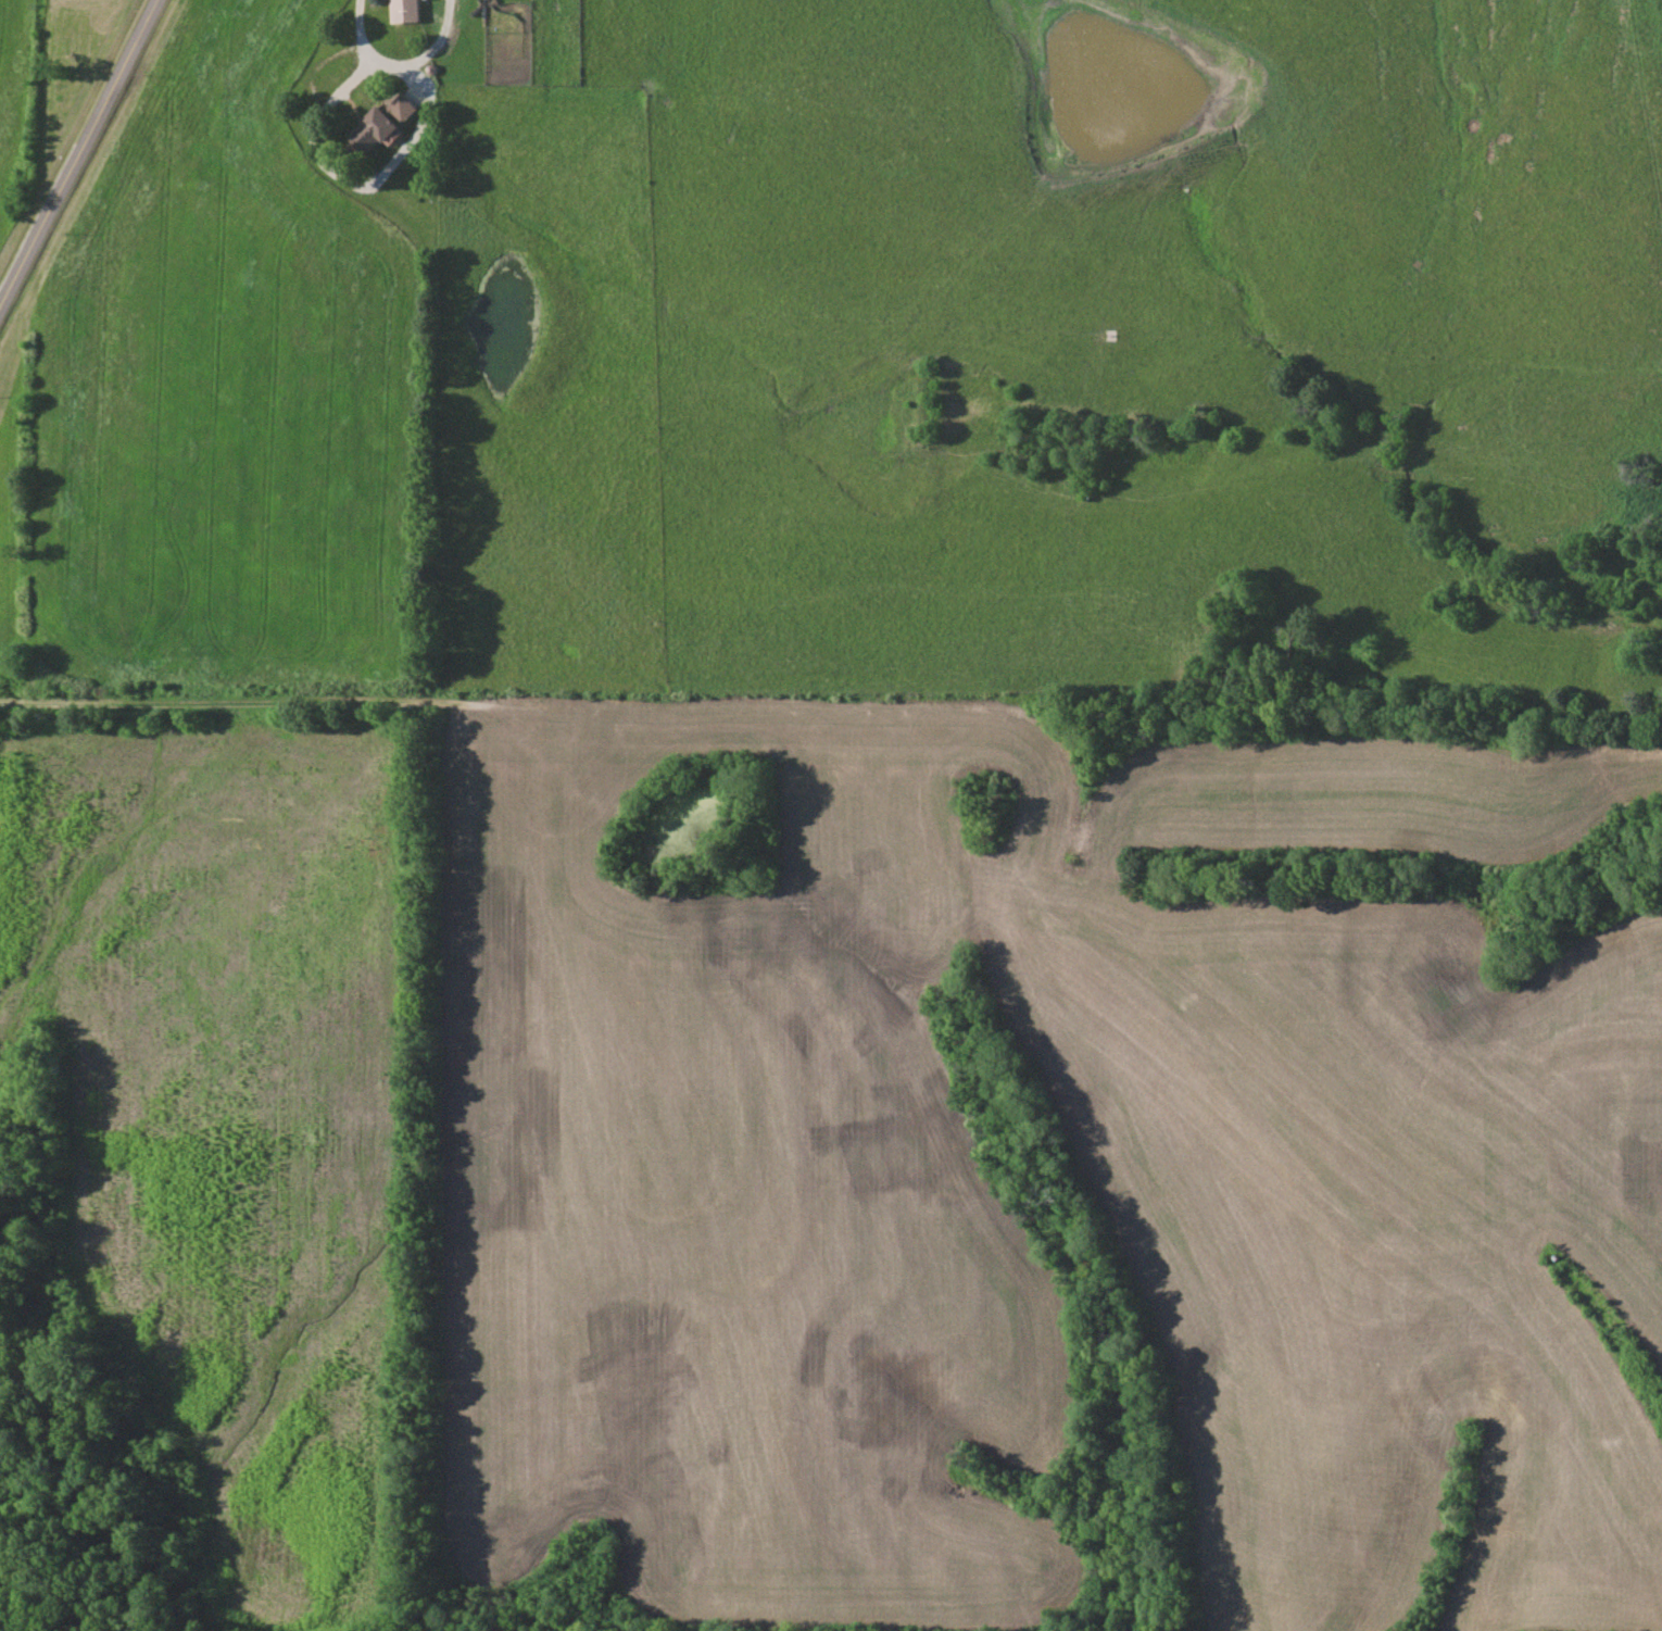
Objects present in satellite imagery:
building: (405, 11)
road: (401, 65)
building: (402, 108)
building: (374, 129)
road: (77, 161)

